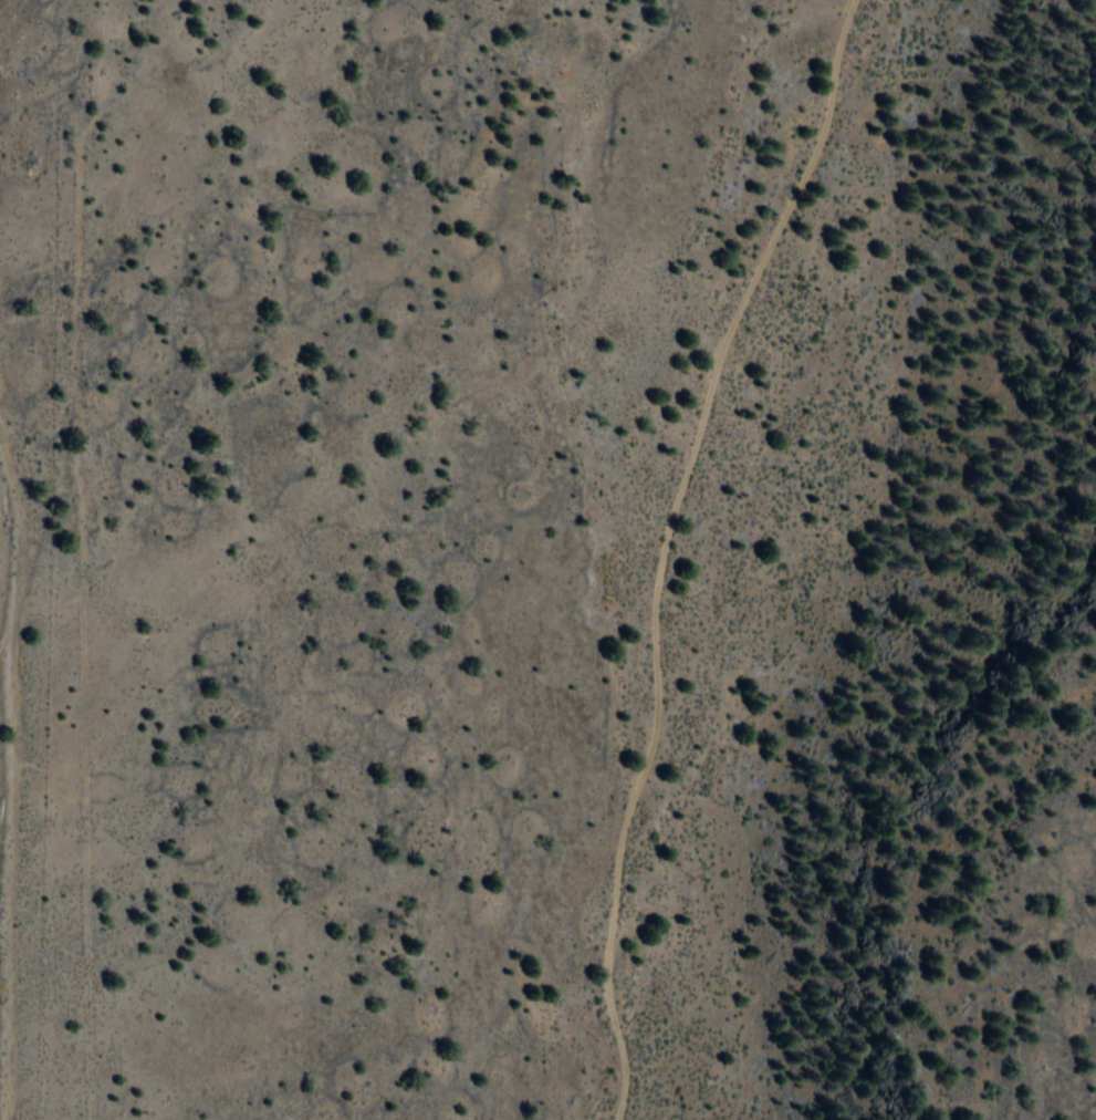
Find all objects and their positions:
road: (665, 547)

